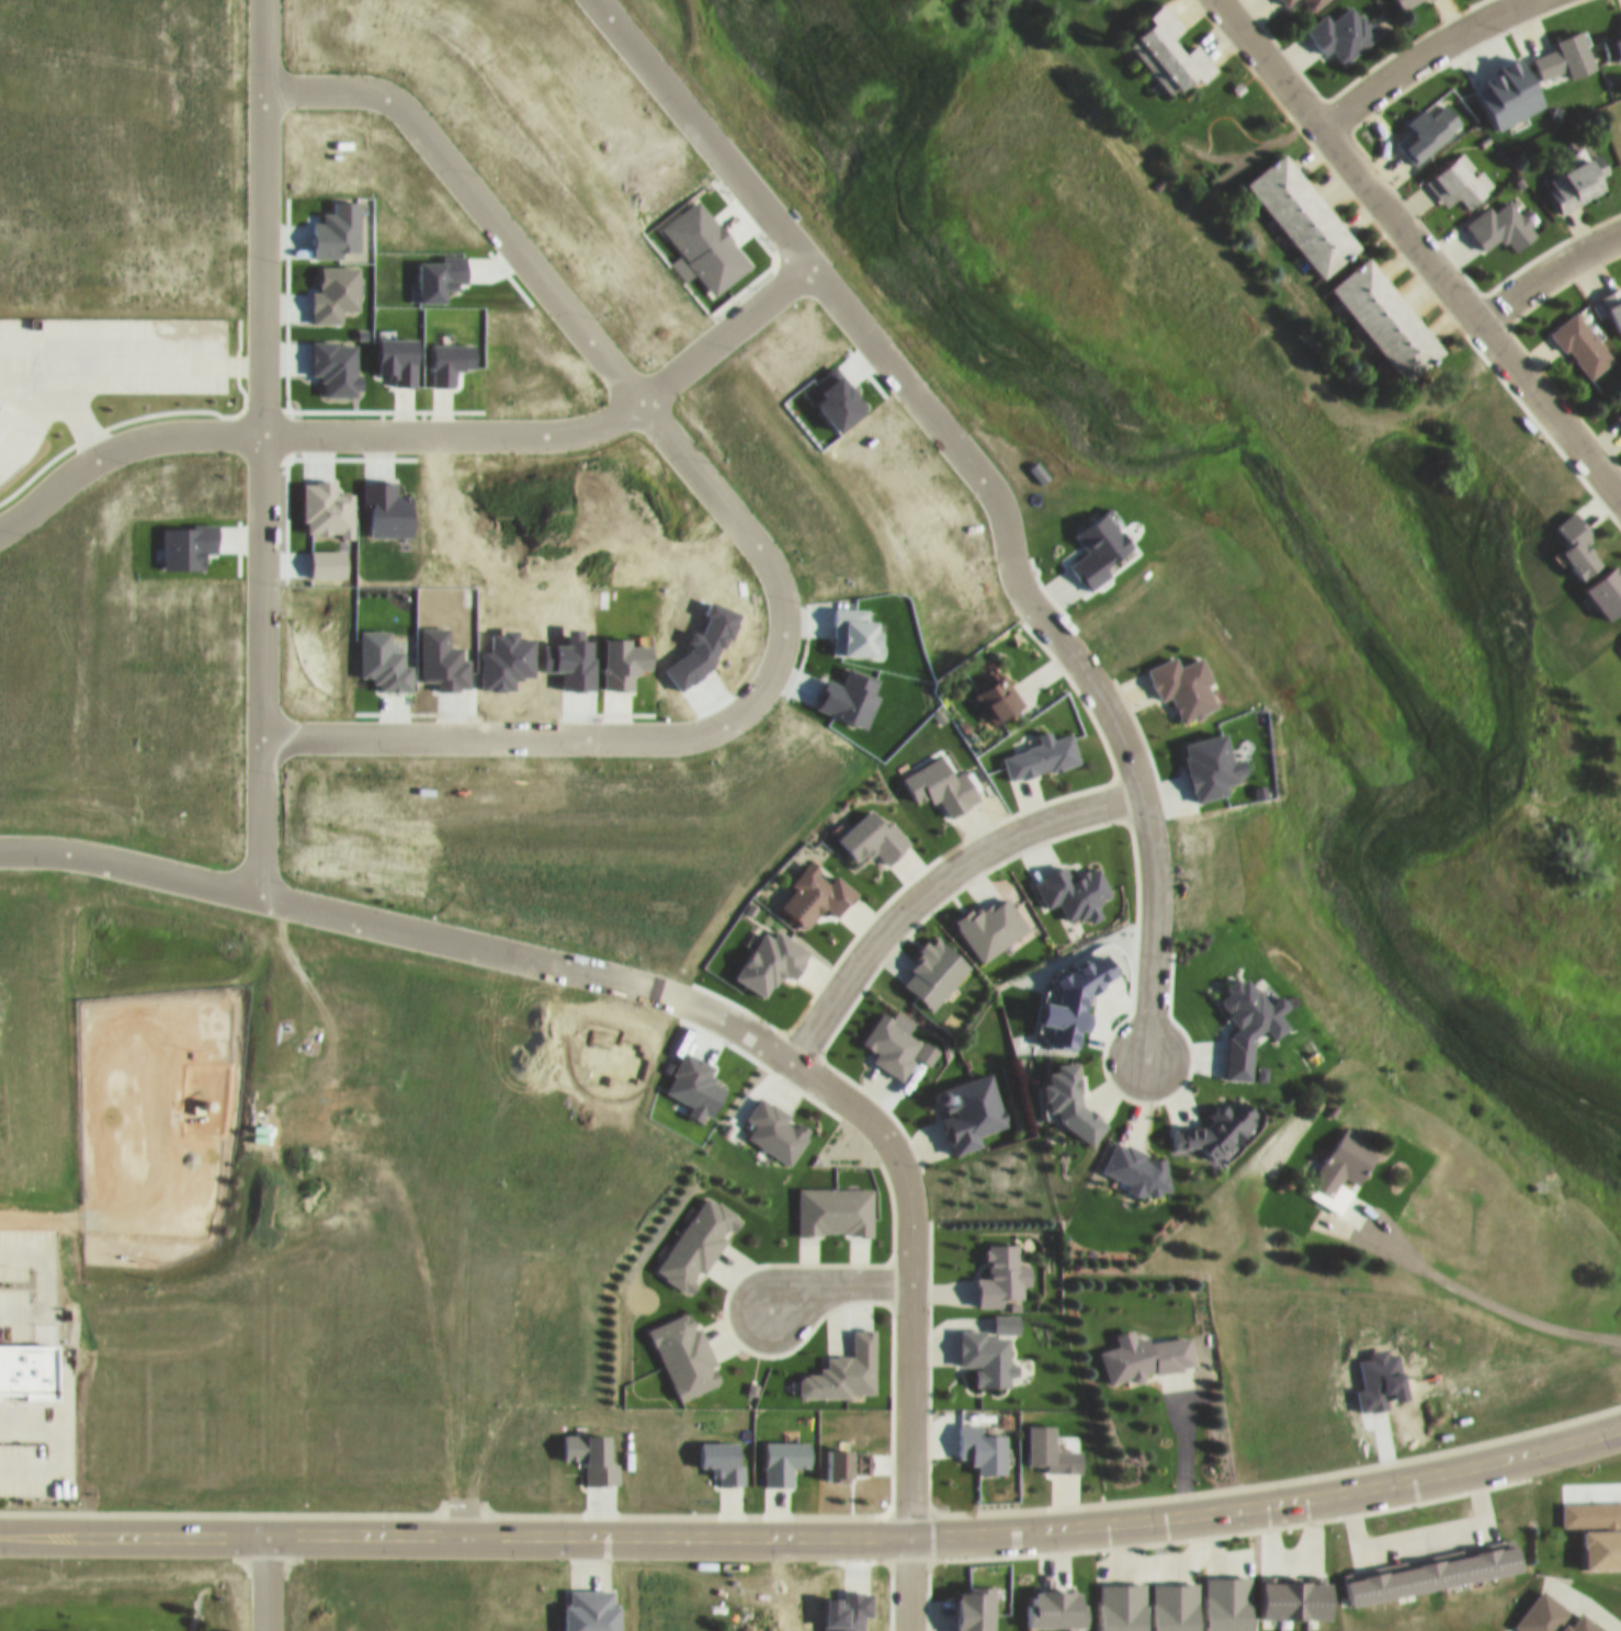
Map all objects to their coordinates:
building: (1312, 0)
building: (1404, 0)
building: (1345, 22)
building: (1613, 38)
building: (1171, 44)
building: (1567, 46)
road: (1408, 53)
building: (1512, 82)
building: (1428, 121)
building: (1460, 171)
building: (1579, 171)
road: (474, 190)
building: (1304, 204)
building: (1501, 216)
road: (1424, 243)
road: (1546, 262)
road: (261, 302)
building: (1616, 303)
building: (1390, 309)
building: (1583, 333)
building: (1619, 405)
road: (309, 432)
building: (1184, 676)
building: (1041, 745)
road: (1146, 807)
road: (930, 871)
building: (817, 884)
building: (197, 1098)
building: (774, 1123)
road: (902, 1158)
building: (1136, 1158)
building: (1341, 1158)
building: (835, 1201)
road: (129, 1210)
building: (699, 1233)
road: (835, 1275)
road: (1484, 1290)
building: (684, 1345)
building: (1145, 1346)
building: (23, 1352)
building: (846, 1359)
road: (461, 1509)
building: (1596, 1519)
road: (815, 1530)
road: (265, 1578)
road: (906, 1581)
building: (92, 1628)
parking lot: (184, 1628)

